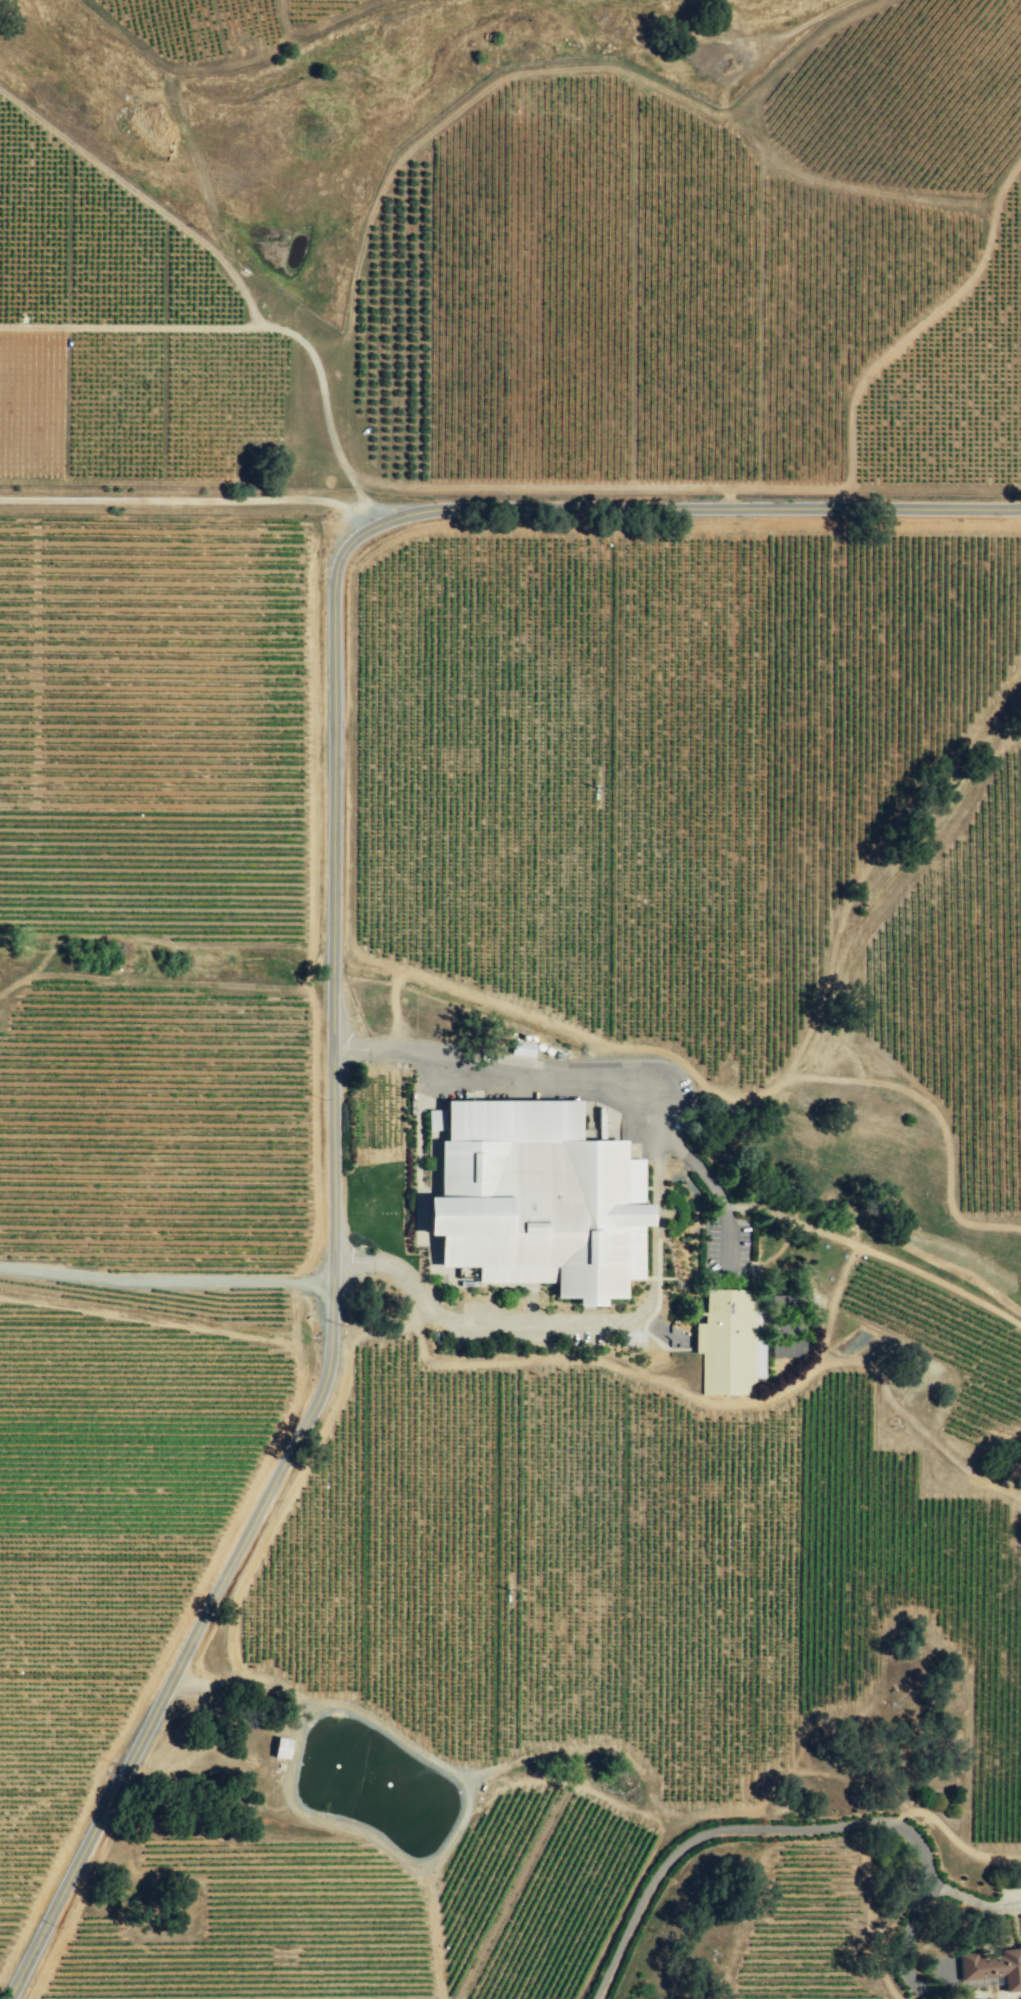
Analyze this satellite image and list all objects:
road: (190, 500)
road: (334, 965)
building: (520, 1050)
road: (694, 1167)
building: (533, 1198)
road: (655, 1219)
building: (431, 1252)
road: (163, 1277)
building: (730, 1343)
building: (279, 1748)
road: (778, 1829)
building: (993, 1968)
building: (943, 1972)

